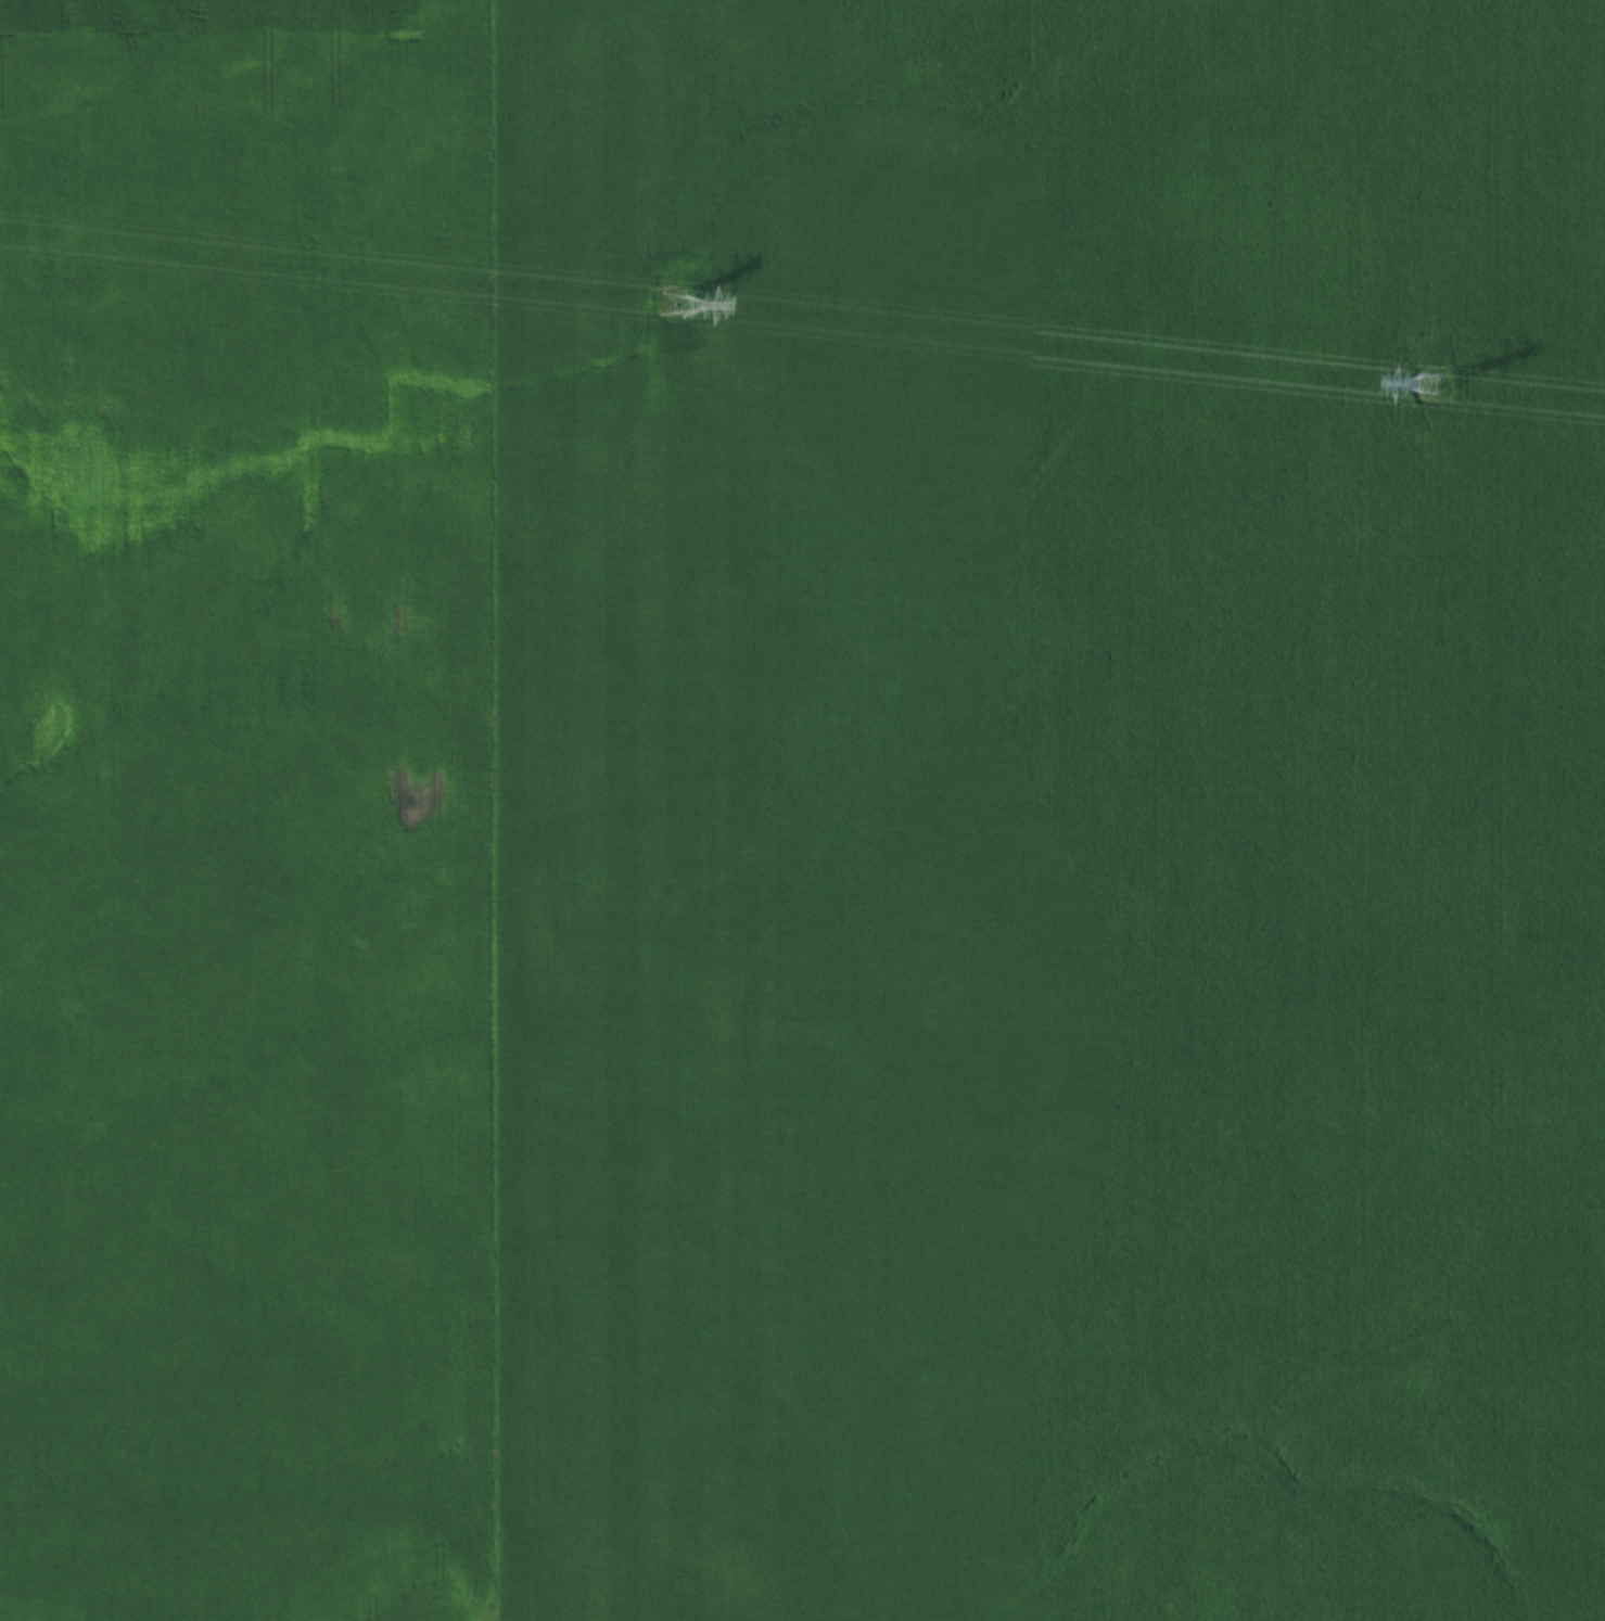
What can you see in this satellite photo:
power tower: (667, 298)
power tower: (1430, 380)

